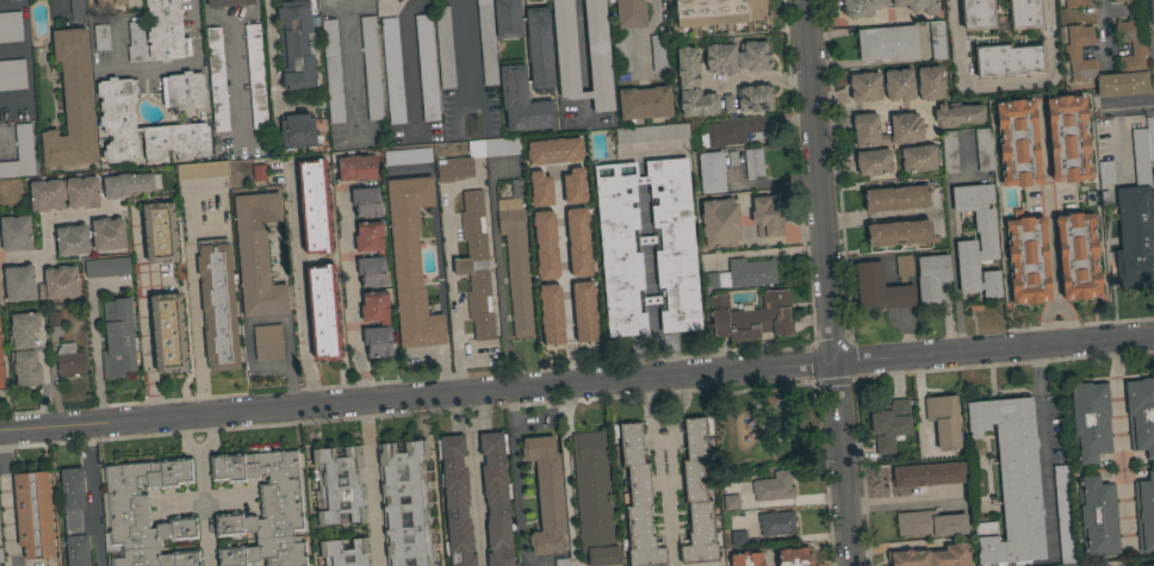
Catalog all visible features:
building: (328, 0)
road: (61, 1)
road: (131, 1)
building: (1127, 1)
building: (108, 2)
building: (227, 2)
building: (1077, 4)
building: (77, 10)
building: (858, 10)
building: (1150, 11)
building: (716, 12)
building: (976, 14)
building: (1024, 14)
building: (507, 19)
building: (11, 27)
building: (626, 30)
road: (1102, 30)
building: (159, 35)
road: (643, 36)
building: (101, 37)
building: (486, 42)
building: (937, 42)
building: (887, 43)
building: (296, 44)
building: (596, 45)
road: (463, 46)
building: (445, 48)
building: (539, 50)
building: (658, 51)
road: (234, 56)
building: (752, 56)
road: (346, 57)
road: (609, 57)
building: (720, 58)
building: (1130, 58)
building: (1006, 60)
road: (29, 67)
road: (166, 67)
building: (371, 68)
building: (427, 68)
building: (333, 71)
building: (392, 71)
building: (12, 74)
building: (255, 75)
road: (759, 76)
building: (217, 80)
road: (1001, 80)
building: (929, 83)
building: (898, 85)
building: (691, 86)
building: (864, 87)
building: (182, 91)
building: (753, 98)
building: (521, 101)
building: (644, 102)
building: (70, 104)
road: (1125, 106)
road: (869, 107)
building: (957, 114)
road: (837, 125)
building: (143, 127)
building: (297, 131)
building: (906, 131)
building: (732, 132)
building: (652, 133)
building: (1067, 138)
building: (1017, 143)
building: (984, 149)
building: (949, 151)
building: (558, 153)
building: (20, 155)
building: (1143, 155)
building: (407, 156)
building: (474, 157)
building: (918, 158)
building: (733, 160)
building: (873, 162)
building: (752, 163)
building: (355, 168)
building: (203, 170)
road: (639, 172)
building: (259, 173)
building: (711, 173)
building: (1105, 173)
road: (640, 181)
road: (767, 182)
building: (128, 184)
building: (1153, 184)
building: (569, 188)
building: (63, 194)
building: (896, 198)
building: (365, 201)
building: (314, 206)
road: (643, 211)
building: (579, 216)
building: (767, 216)
building: (539, 218)
building: (719, 223)
road: (1048, 224)
road: (45, 226)
building: (159, 232)
building: (14, 234)
building: (107, 234)
building: (899, 234)
road: (950, 235)
building: (72, 240)
road: (763, 240)
building: (1135, 240)
road: (645, 241)
building: (986, 241)
building: (573, 243)
building: (256, 255)
building: (379, 255)
building: (1078, 256)
building: (1026, 259)
building: (515, 261)
building: (410, 262)
building: (476, 265)
building: (902, 267)
building: (106, 268)
road: (649, 270)
building: (675, 270)
building: (742, 274)
building: (931, 276)
road: (563, 278)
road: (829, 282)
building: (19, 284)
building: (57, 284)
road: (498, 284)
road: (300, 286)
building: (0, 288)
building: (880, 288)
road: (194, 290)
road: (453, 290)
building: (585, 294)
building: (703, 294)
road: (352, 296)
building: (546, 298)
building: (0, 299)
road: (651, 300)
building: (217, 305)
building: (322, 312)
building: (579, 313)
building: (751, 317)
road: (267, 318)
building: (54, 319)
road: (145, 319)
road: (652, 319)
building: (384, 324)
building: (167, 332)
building: (117, 338)
building: (267, 342)
building: (24, 349)
road: (670, 349)
road: (639, 352)
building: (69, 360)
building: (1, 373)
road: (576, 382)
building: (1141, 416)
park: (777, 418)
building: (943, 421)
building: (1090, 422)
building: (889, 425)
road: (815, 428)
road: (672, 429)
road: (1117, 434)
road: (662, 440)
road: (198, 448)
road: (1044, 448)
road: (564, 467)
road: (657, 467)
road: (516, 474)
building: (927, 474)
road: (471, 479)
building: (1010, 481)
road: (371, 483)
building: (339, 486)
building: (773, 487)
road: (91, 495)
building: (546, 495)
building: (697, 495)
building: (594, 498)
building: (637, 498)
road: (902, 498)
road: (5, 499)
building: (496, 499)
building: (455, 500)
building: (731, 503)
building: (405, 504)
road: (203, 508)
building: (262, 508)
building: (1144, 512)
building: (144, 514)
building: (1063, 514)
building: (33, 515)
building: (1097, 516)
building: (73, 517)
building: (776, 523)
building: (930, 523)
building: (738, 539)
road: (895, 546)
building: (345, 553)
building: (0, 556)
building: (930, 556)
building: (794, 558)
building: (745, 559)
building: (562, 561)
road: (770, 561)
building: (1088, 565)
building: (1153, 565)

